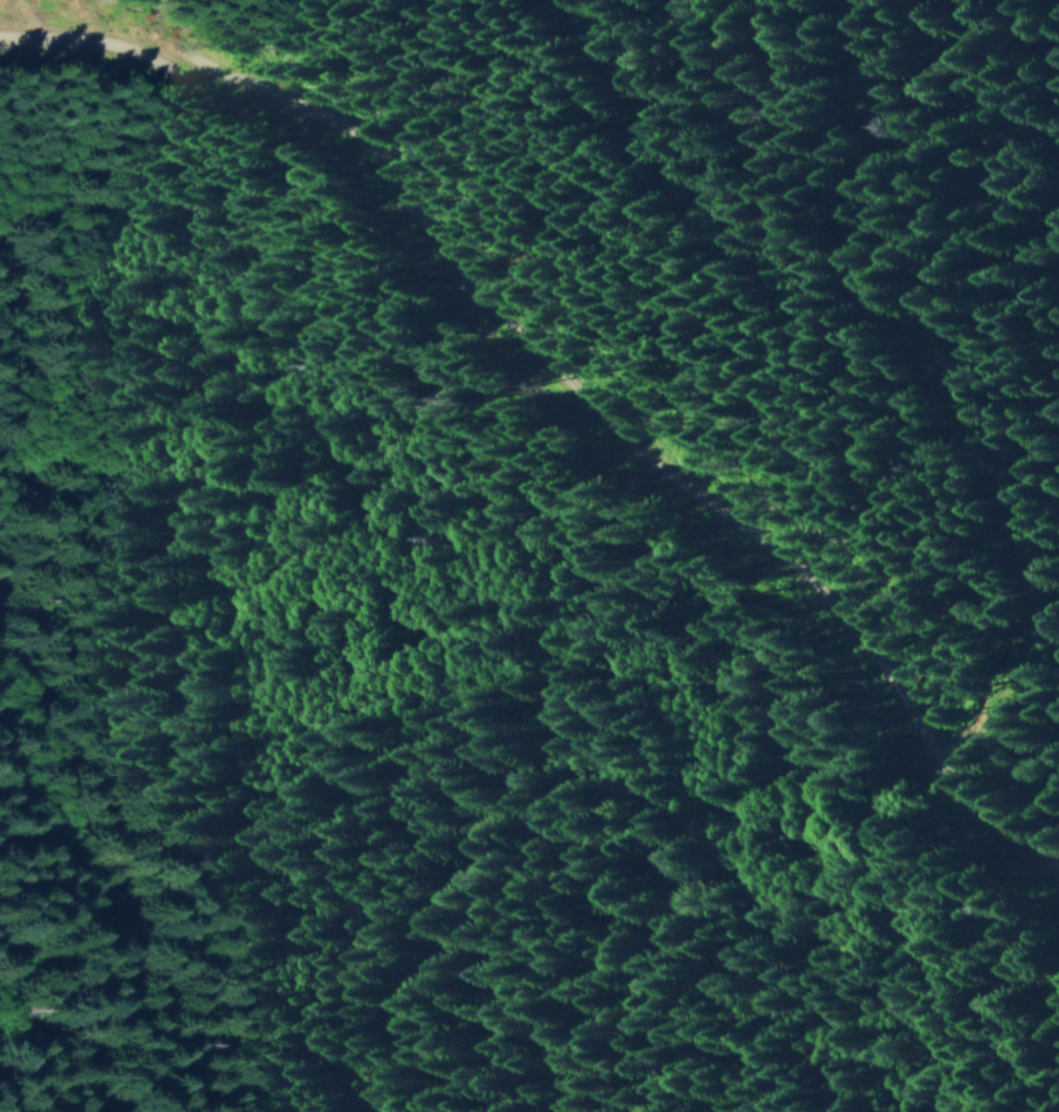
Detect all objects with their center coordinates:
road: (517, 624)

